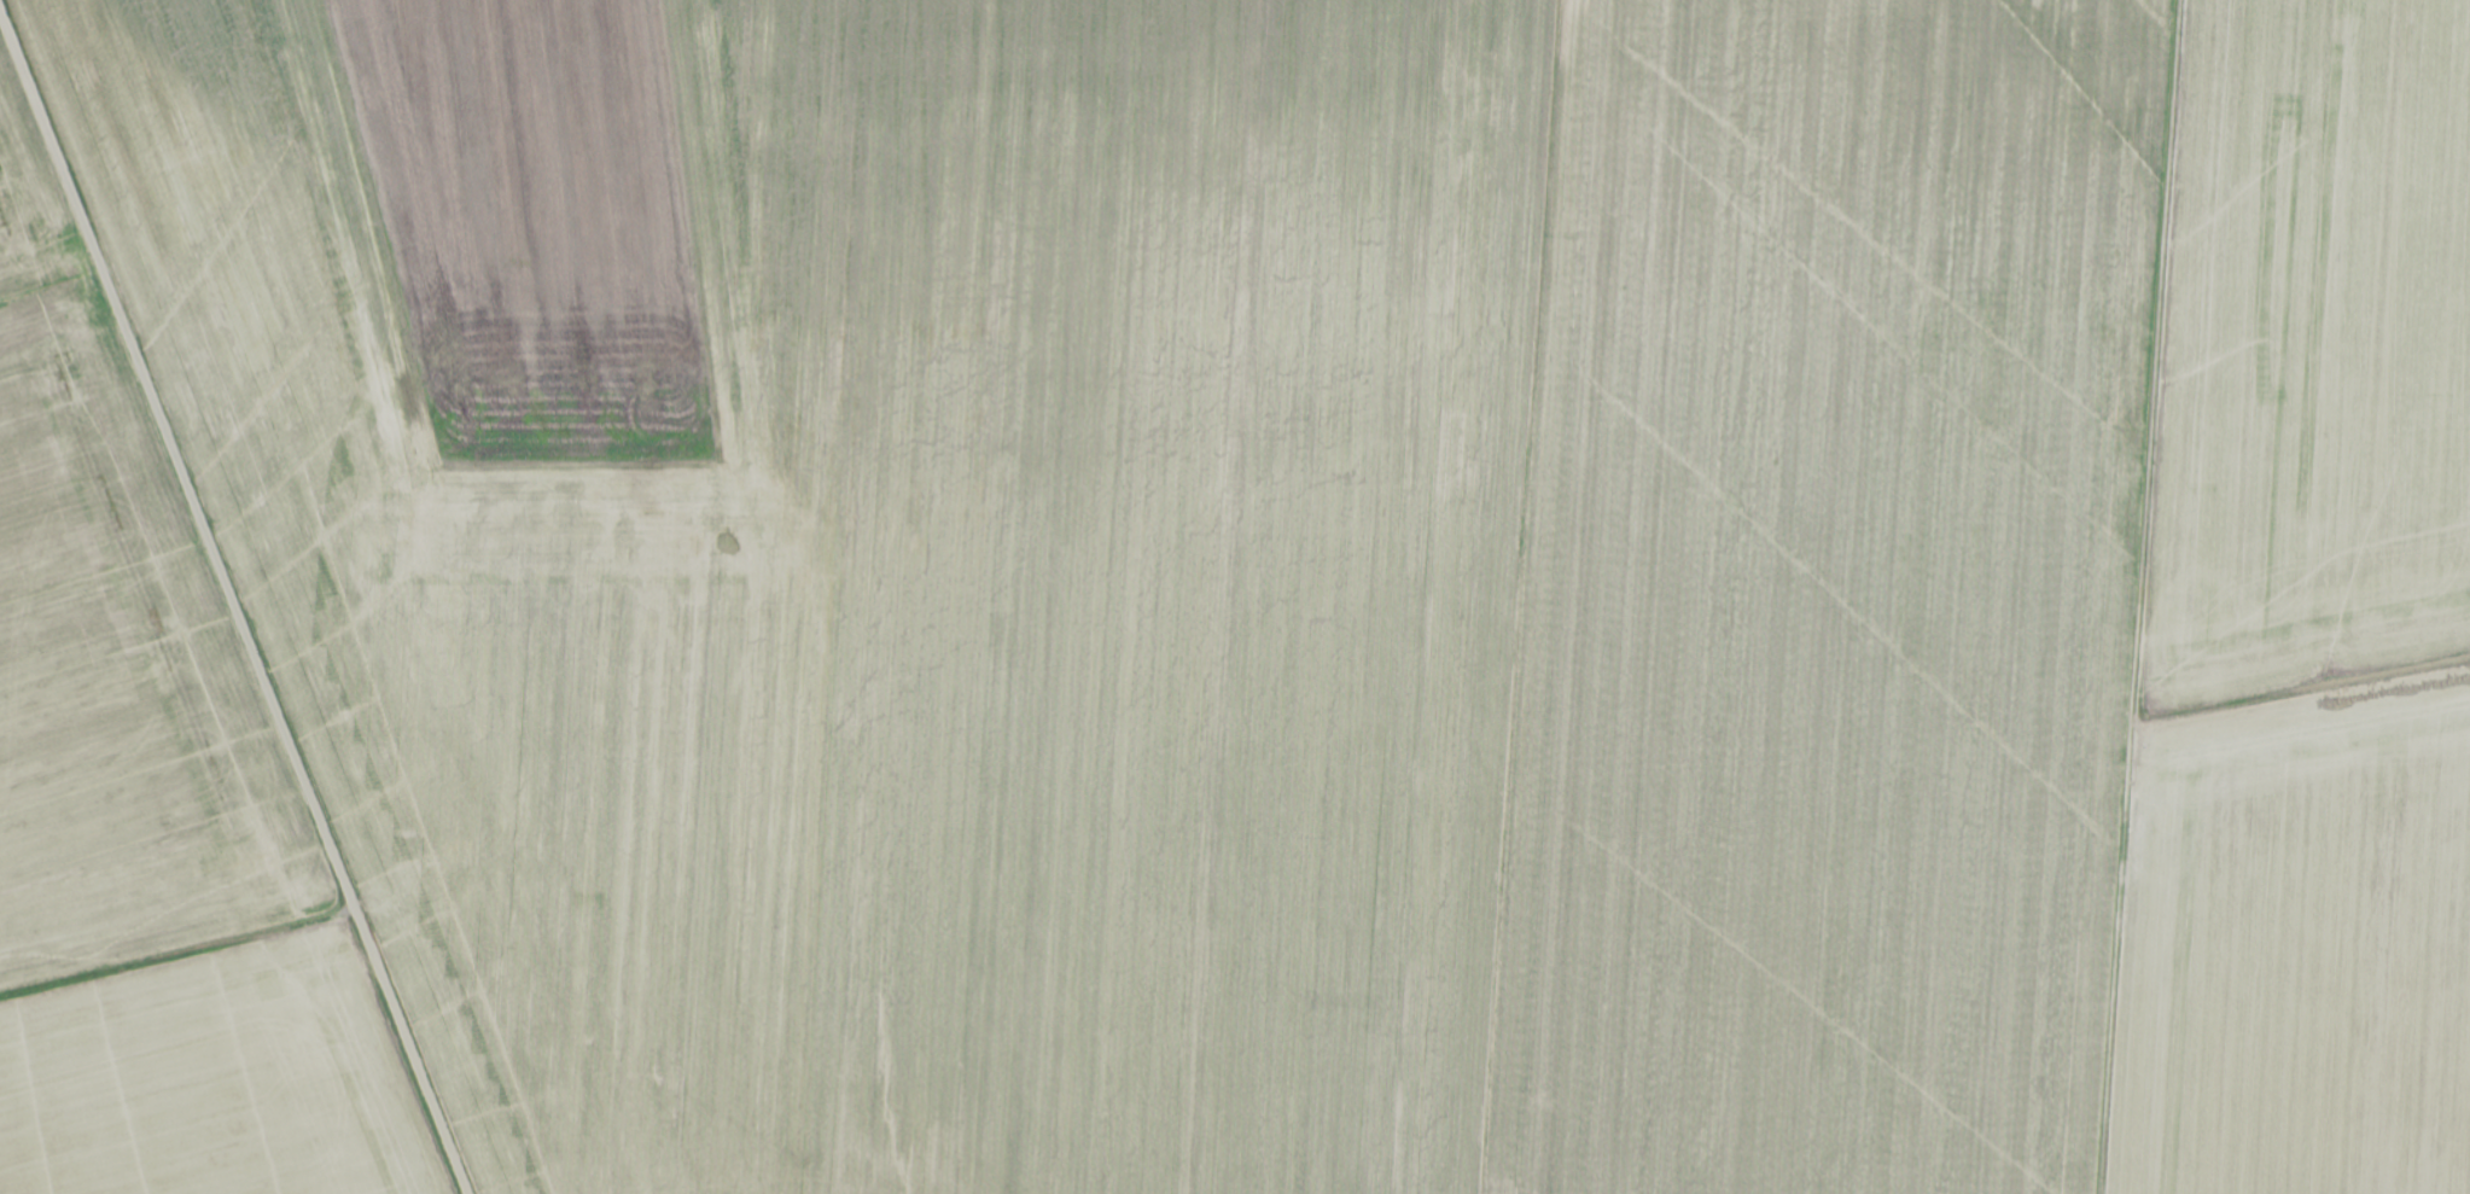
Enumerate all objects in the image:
road: (237, 596)

